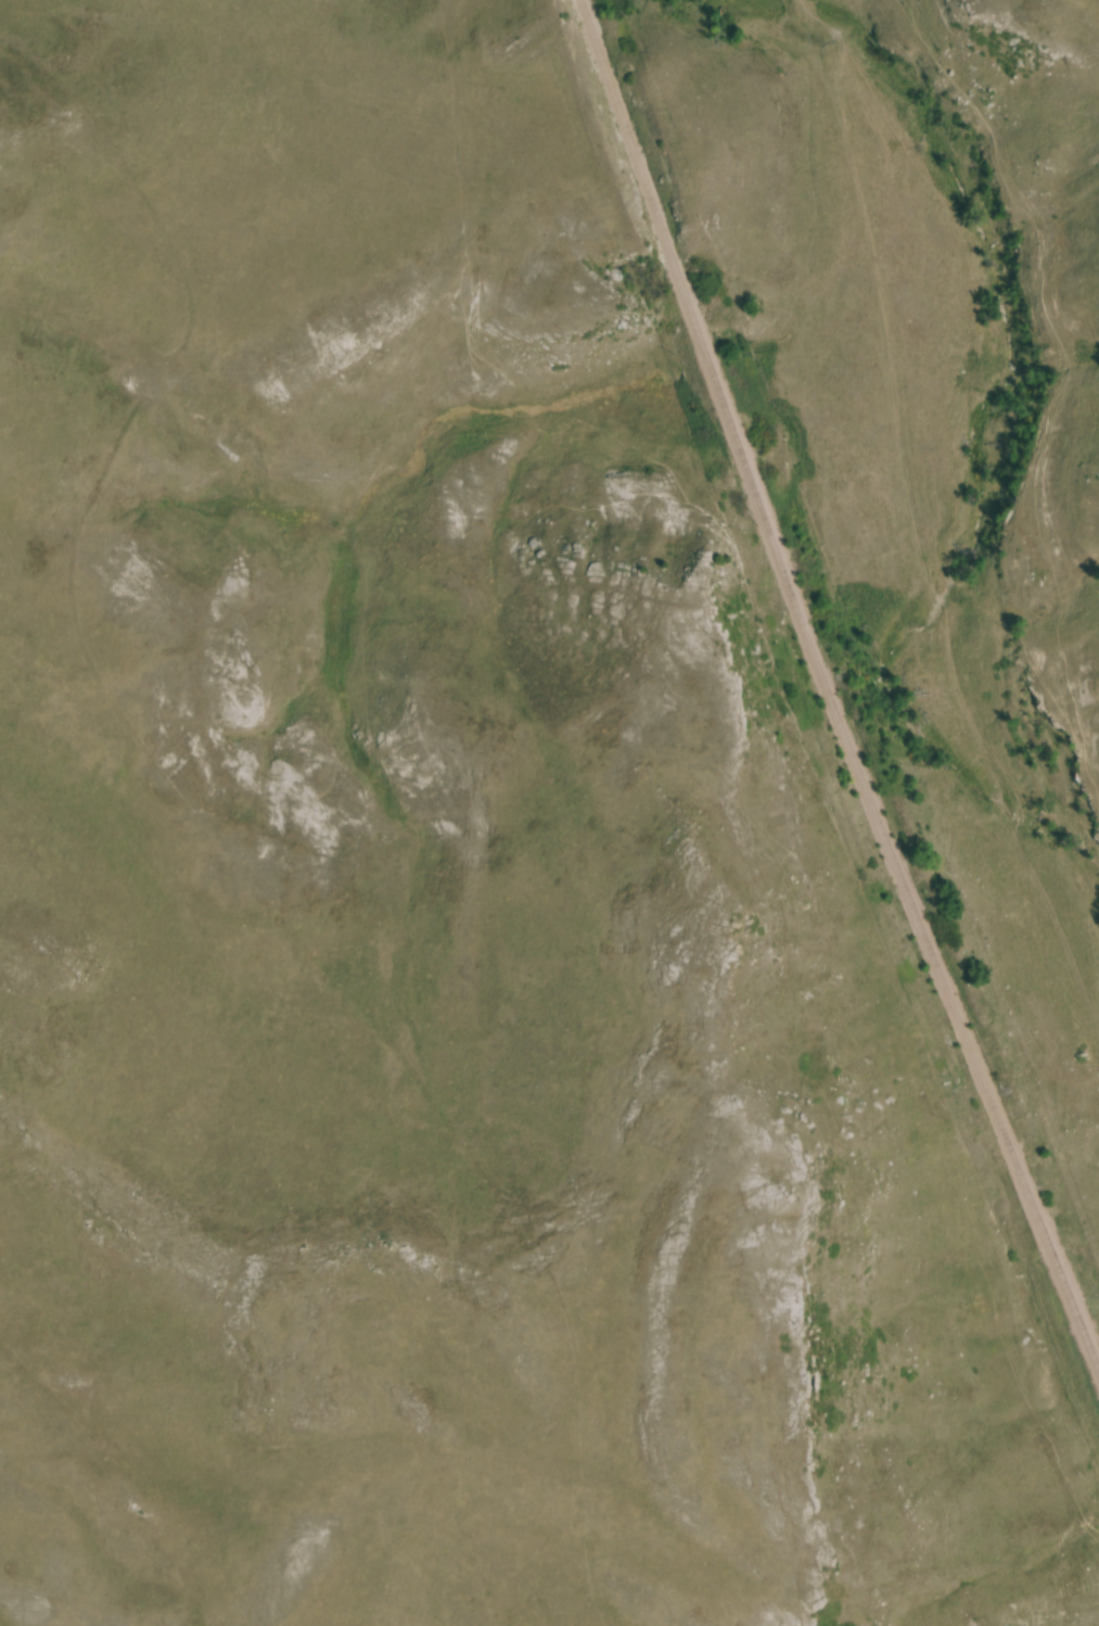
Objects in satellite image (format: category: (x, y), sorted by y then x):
railway: (826, 691)

